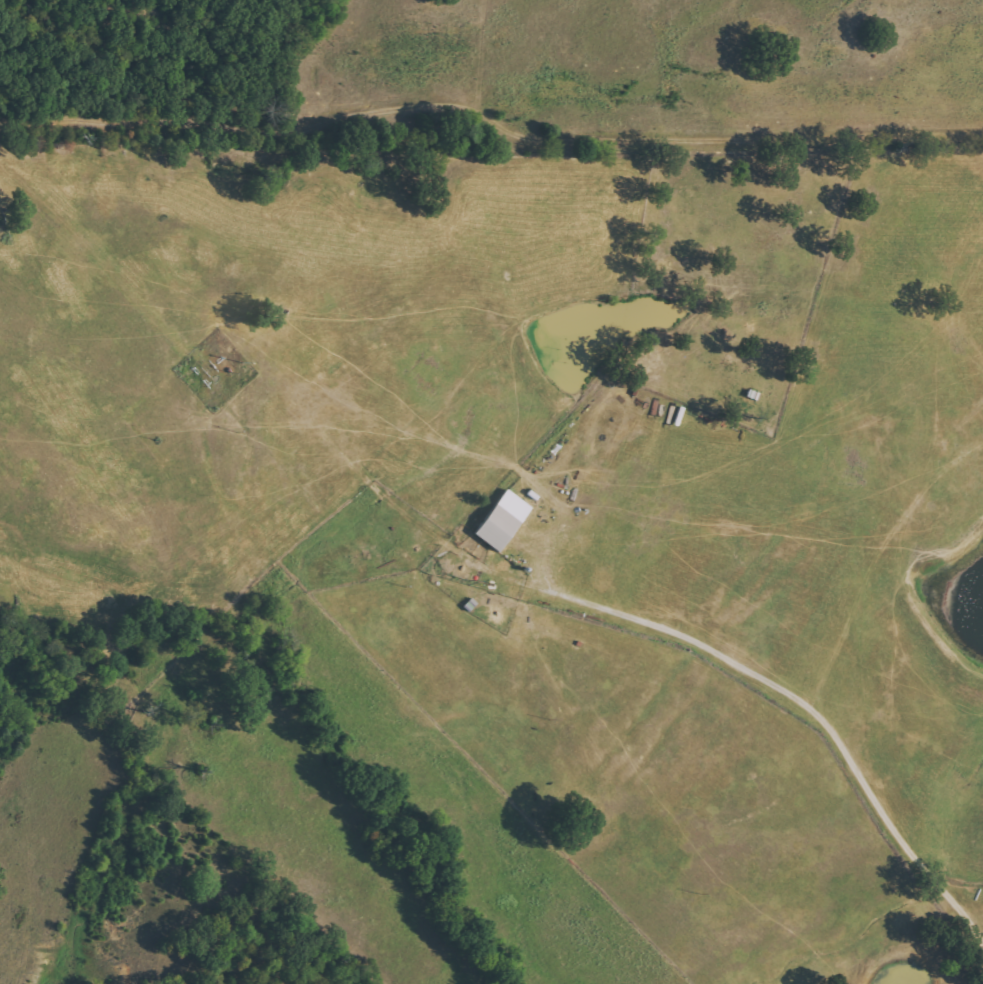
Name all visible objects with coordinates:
building: (498, 528)
road: (816, 712)

